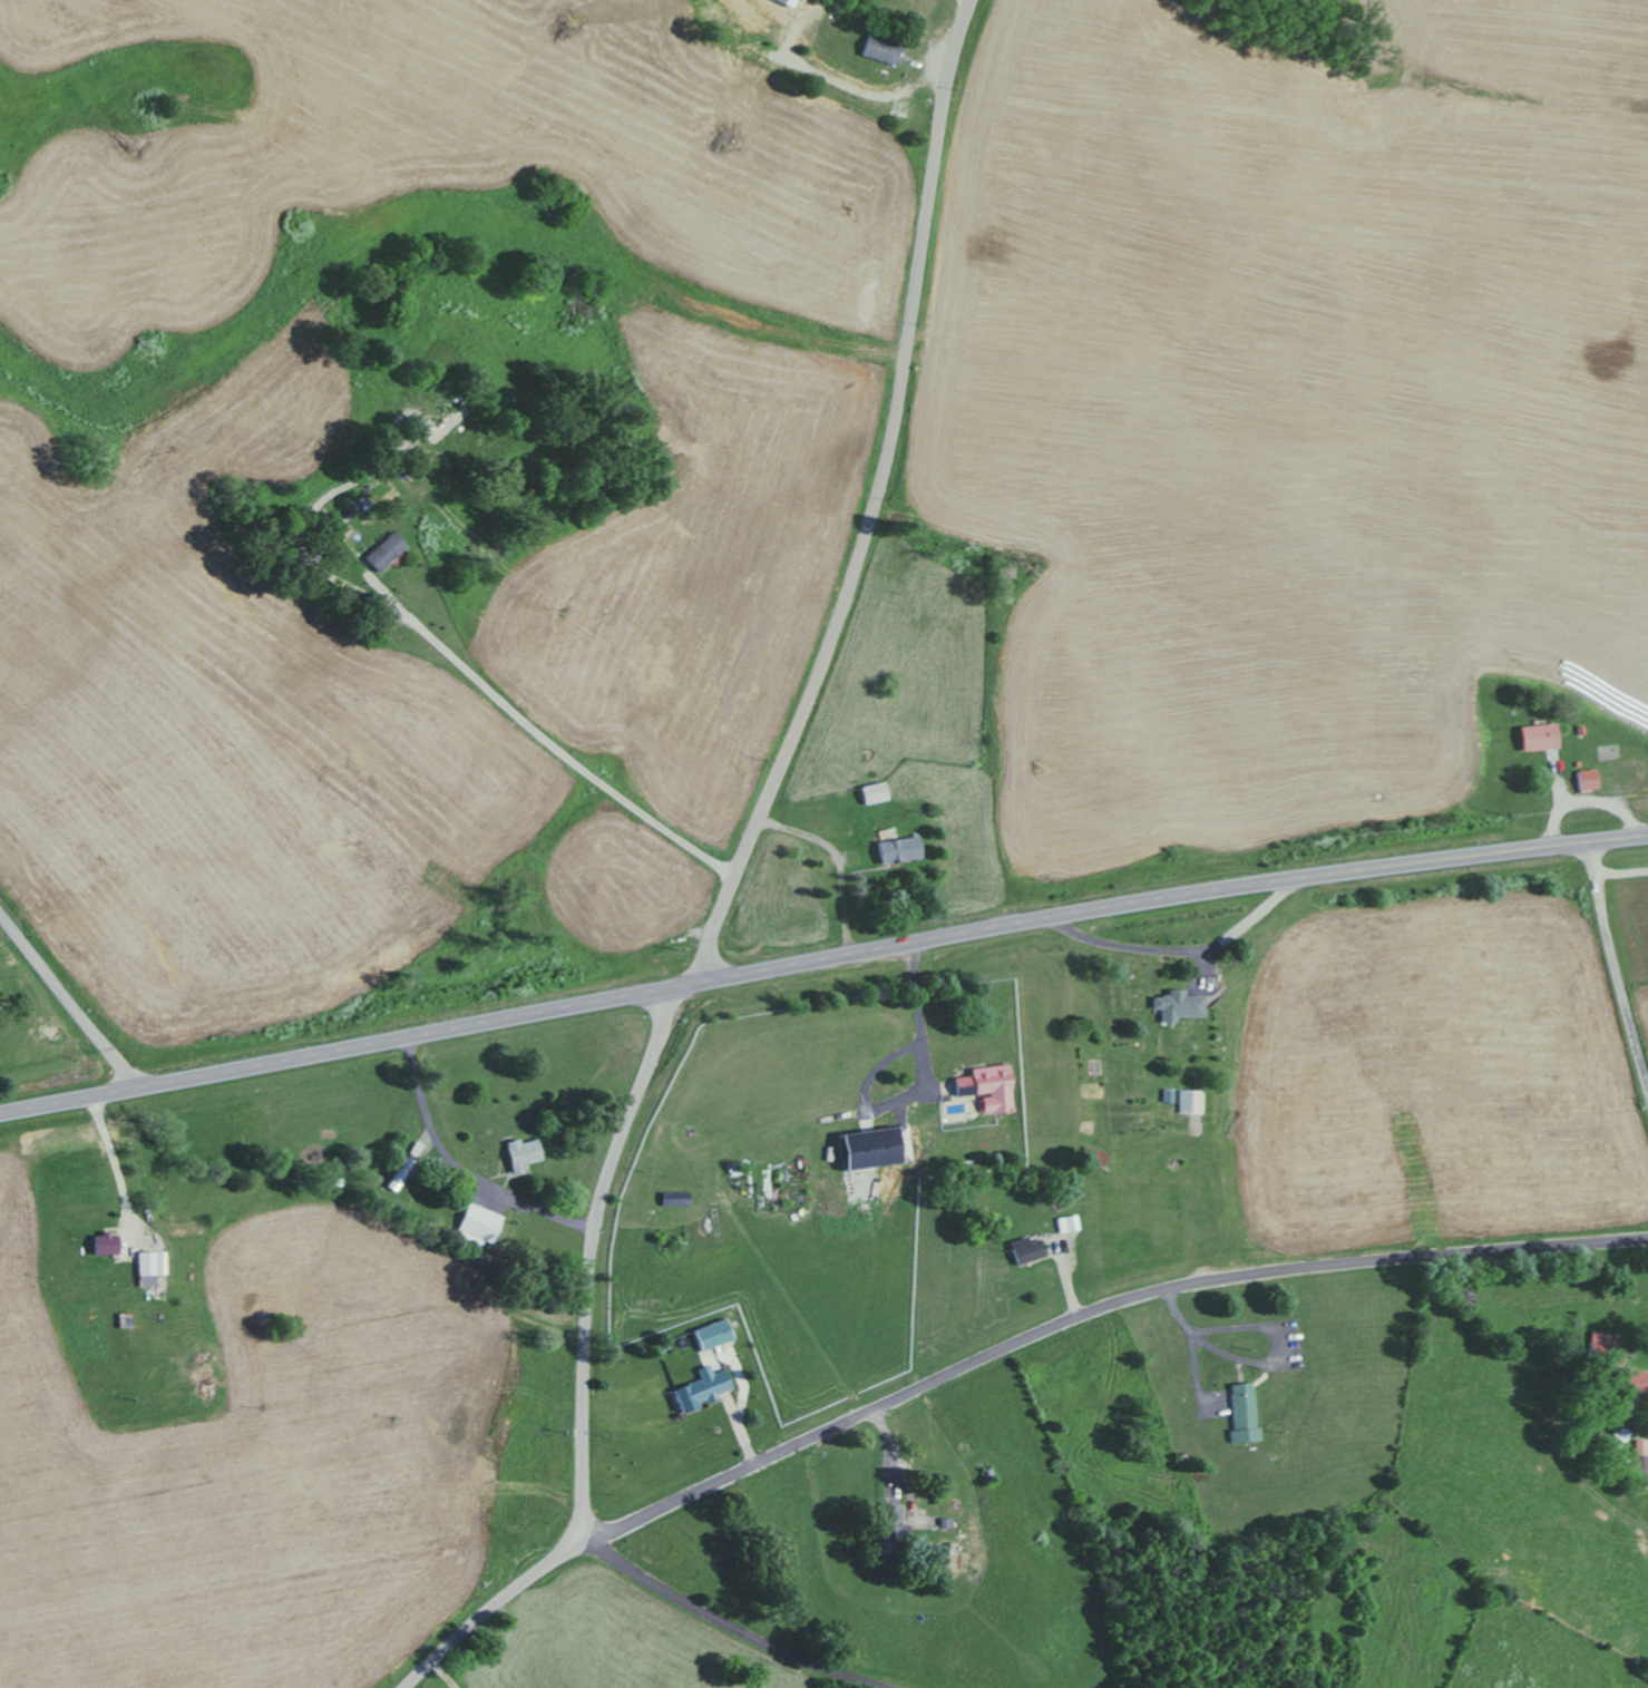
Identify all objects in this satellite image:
building: (881, 48)
road: (897, 420)
road: (342, 484)
building: (386, 552)
road: (504, 708)
building: (1540, 736)
building: (1589, 779)
building: (875, 792)
building: (898, 848)
road: (723, 900)
road: (821, 960)
road: (1616, 968)
road: (68, 1001)
building: (1178, 1005)
road: (920, 1018)
building: (1192, 1102)
building: (875, 1148)
building: (519, 1154)
road: (464, 1168)
building: (1070, 1223)
building: (478, 1224)
building: (104, 1245)
building: (1028, 1249)
building: (149, 1268)
road: (1095, 1311)
building: (713, 1335)
building: (1603, 1345)
road: (1258, 1366)
road: (585, 1369)
building: (1636, 1382)
building: (702, 1389)
building: (1244, 1414)
building: (1641, 1447)
building: (1639, 1471)
road: (579, 1534)
road: (728, 1626)
road: (443, 1675)

